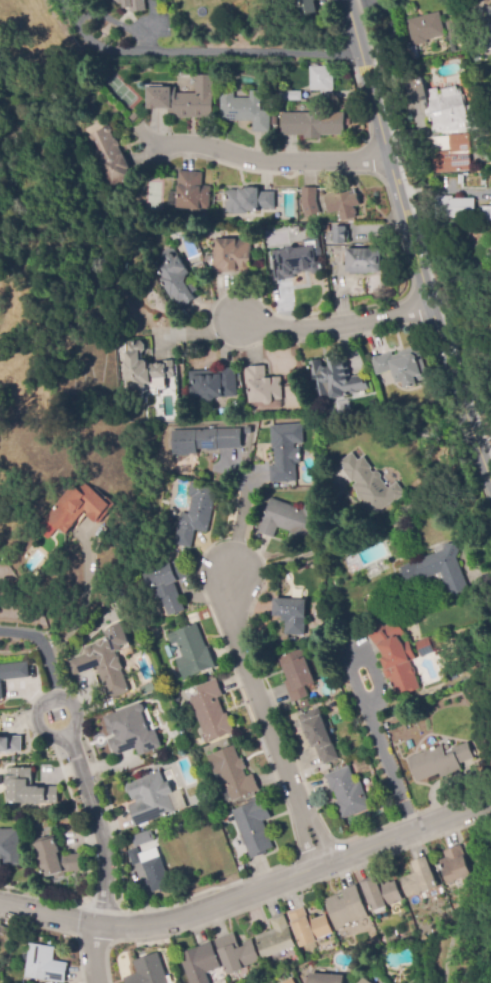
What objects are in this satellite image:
building: (108, 0)
building: (133, 4)
building: (309, 7)
building: (482, 16)
building: (454, 29)
building: (422, 33)
building: (490, 33)
road: (199, 52)
building: (321, 79)
building: (294, 96)
building: (185, 99)
building: (245, 110)
building: (447, 111)
building: (134, 116)
building: (313, 124)
building: (455, 152)
building: (108, 156)
road: (271, 161)
building: (192, 192)
building: (249, 201)
building: (310, 202)
building: (343, 204)
building: (456, 208)
building: (485, 213)
building: (337, 235)
road: (410, 246)
building: (232, 256)
building: (297, 260)
building: (363, 261)
building: (175, 279)
road: (334, 323)
road: (191, 333)
building: (402, 367)
building: (143, 368)
building: (336, 379)
building: (212, 384)
building: (262, 386)
building: (241, 413)
building: (488, 429)
building: (248, 430)
building: (205, 440)
building: (285, 452)
building: (370, 485)
building: (417, 505)
building: (80, 510)
building: (196, 513)
building: (289, 519)
road: (240, 524)
building: (444, 569)
building: (386, 577)
building: (167, 585)
building: (410, 587)
building: (292, 615)
road: (48, 646)
building: (425, 647)
building: (192, 652)
building: (103, 660)
building: (397, 663)
building: (12, 673)
building: (297, 675)
building: (454, 675)
building: (305, 704)
building: (211, 712)
road: (267, 721)
road: (69, 731)
building: (131, 732)
building: (319, 735)
building: (11, 744)
building: (223, 744)
building: (481, 752)
road: (386, 756)
building: (441, 761)
building: (233, 773)
building: (29, 788)
building: (348, 793)
building: (150, 799)
road: (100, 827)
building: (254, 827)
building: (143, 838)
building: (10, 847)
building: (56, 858)
building: (456, 867)
building: (151, 868)
building: (420, 878)
road: (250, 892)
building: (382, 893)
road: (482, 900)
building: (347, 908)
park: (472, 918)
building: (309, 926)
building: (276, 938)
building: (237, 953)
road: (95, 954)
building: (200, 963)
building: (45, 964)
building: (148, 970)
building: (326, 978)
building: (306, 980)
building: (289, 981)
building: (365, 981)

